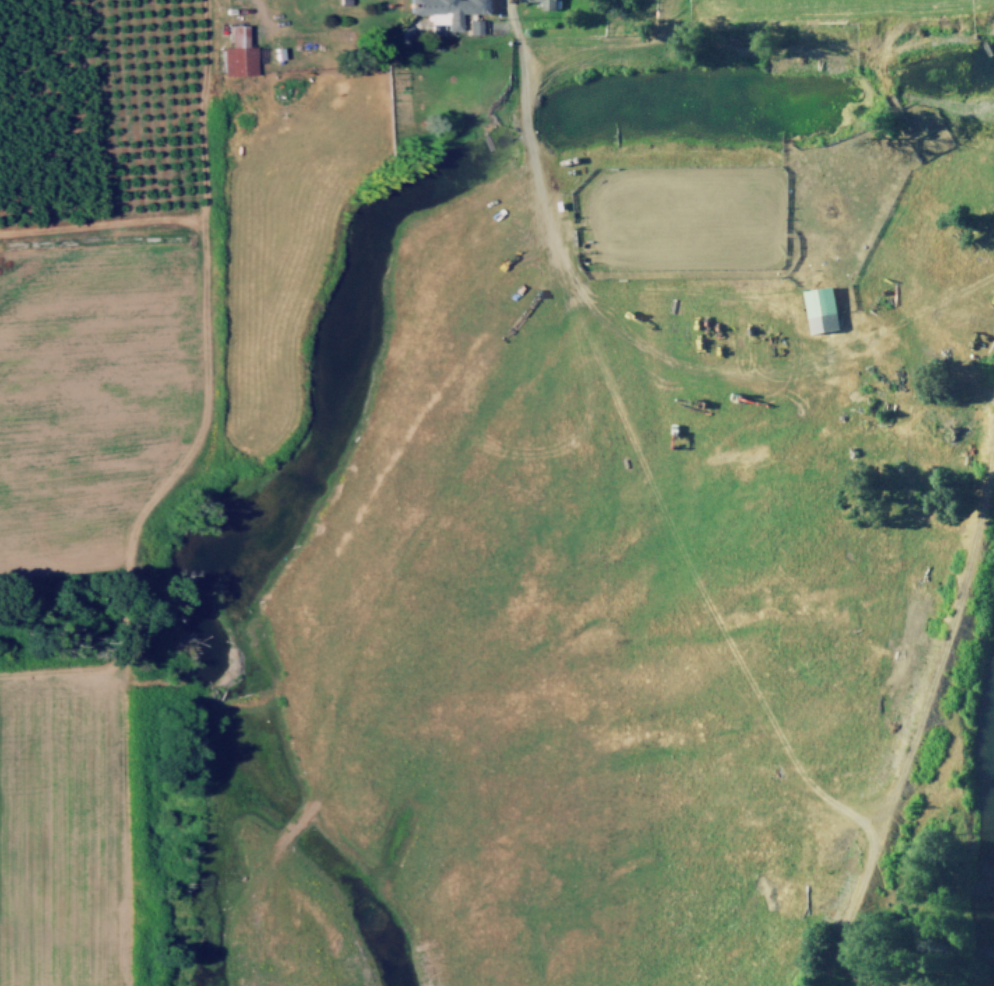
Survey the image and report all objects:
building: (547, 3)
building: (446, 9)
building: (472, 25)
building: (237, 52)
building: (820, 308)

